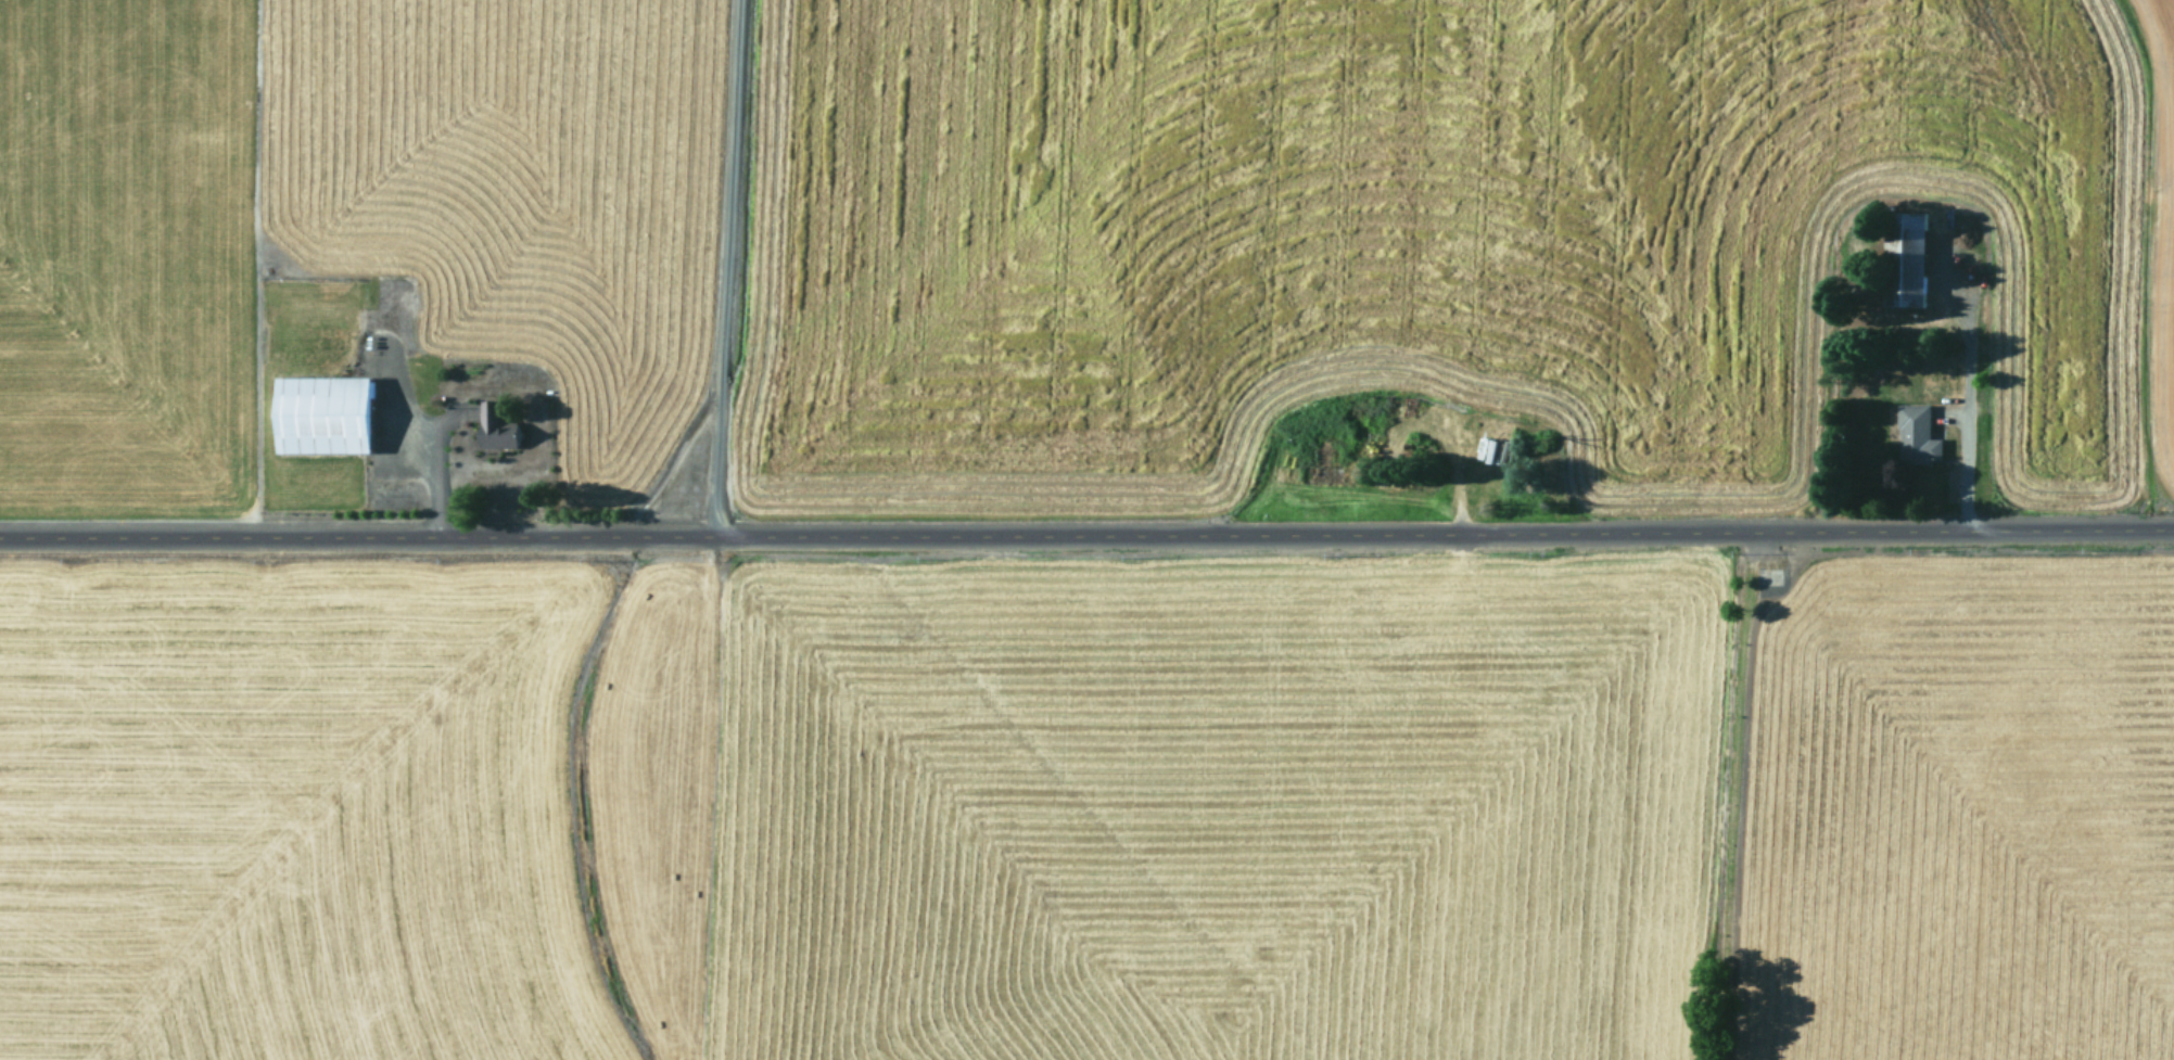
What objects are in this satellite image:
road: (1460, 268)
building: (499, 427)
road: (435, 474)
crop: (1086, 529)
road: (1086, 535)

